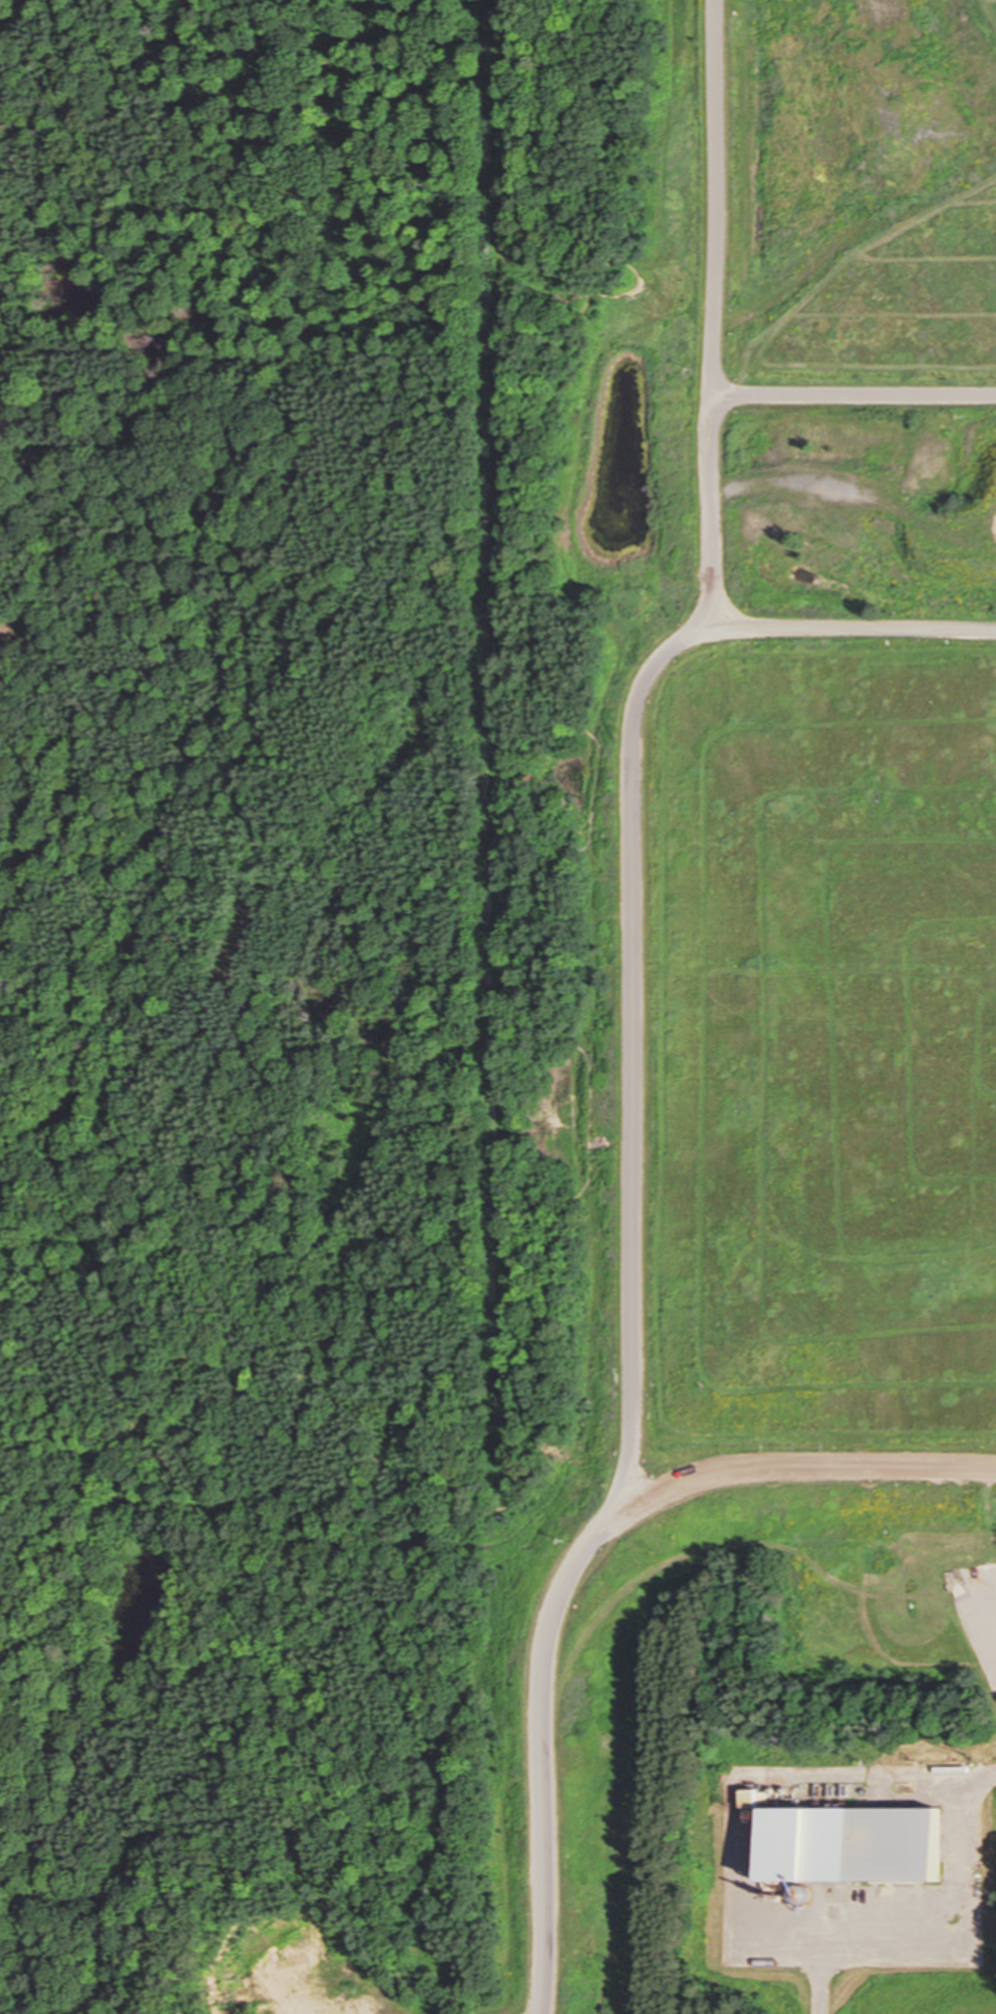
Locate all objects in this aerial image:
road: (857, 396)
road: (843, 629)
road: (637, 1002)
landfill: (758, 1110)
road: (495, 1154)
road: (803, 1469)
building: (858, 1845)
road: (820, 1987)

